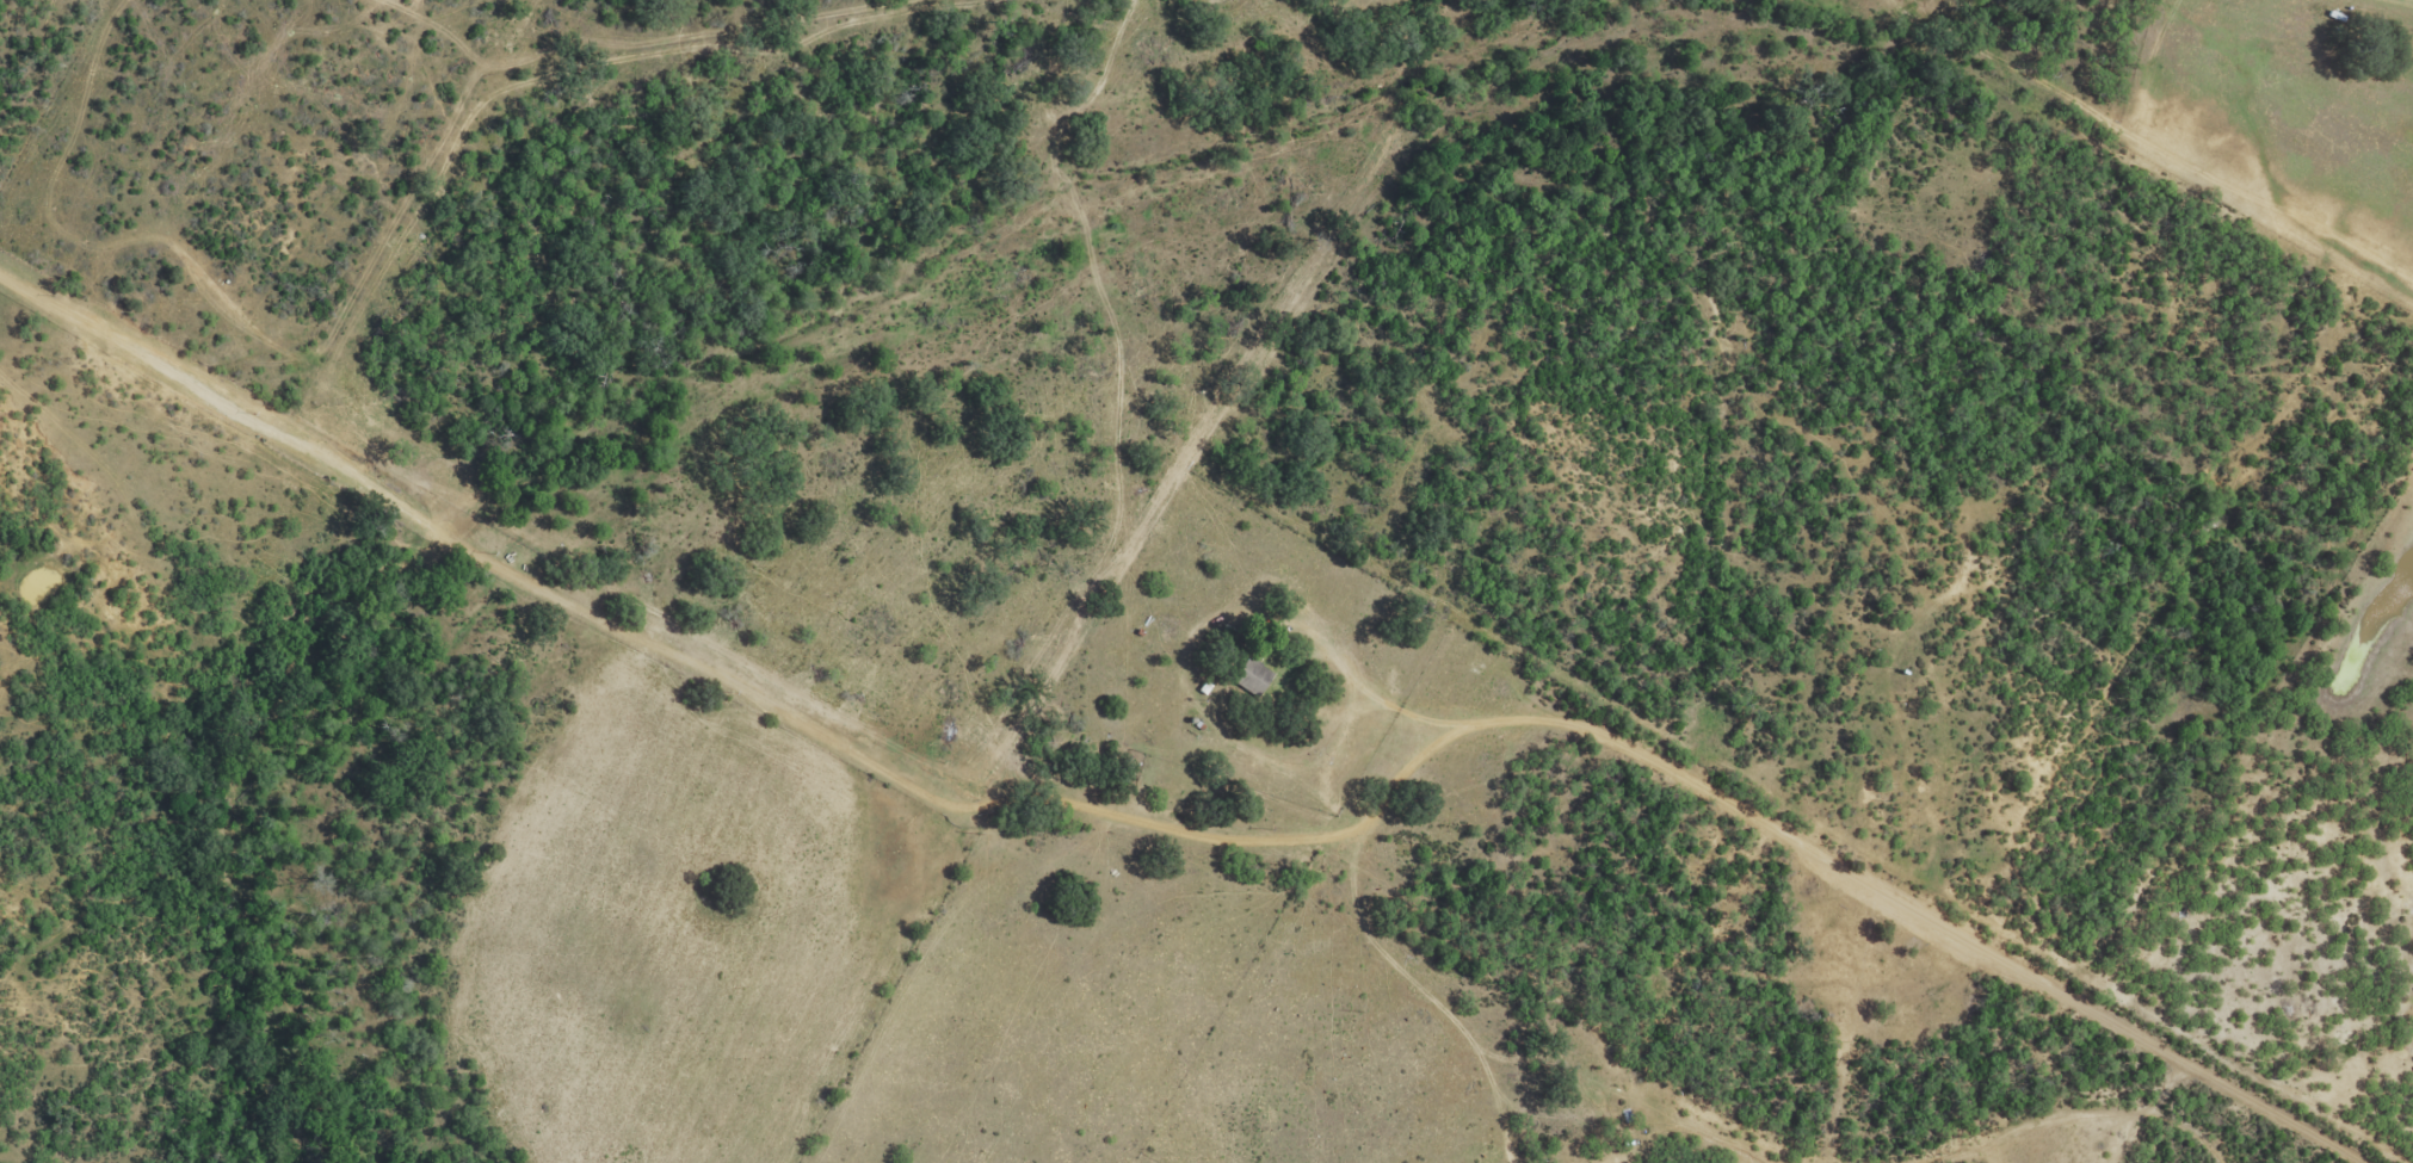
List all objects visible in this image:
river: (1251, 134)
road: (68, 309)
river: (362, 602)
building: (1251, 673)
road: (1241, 773)

